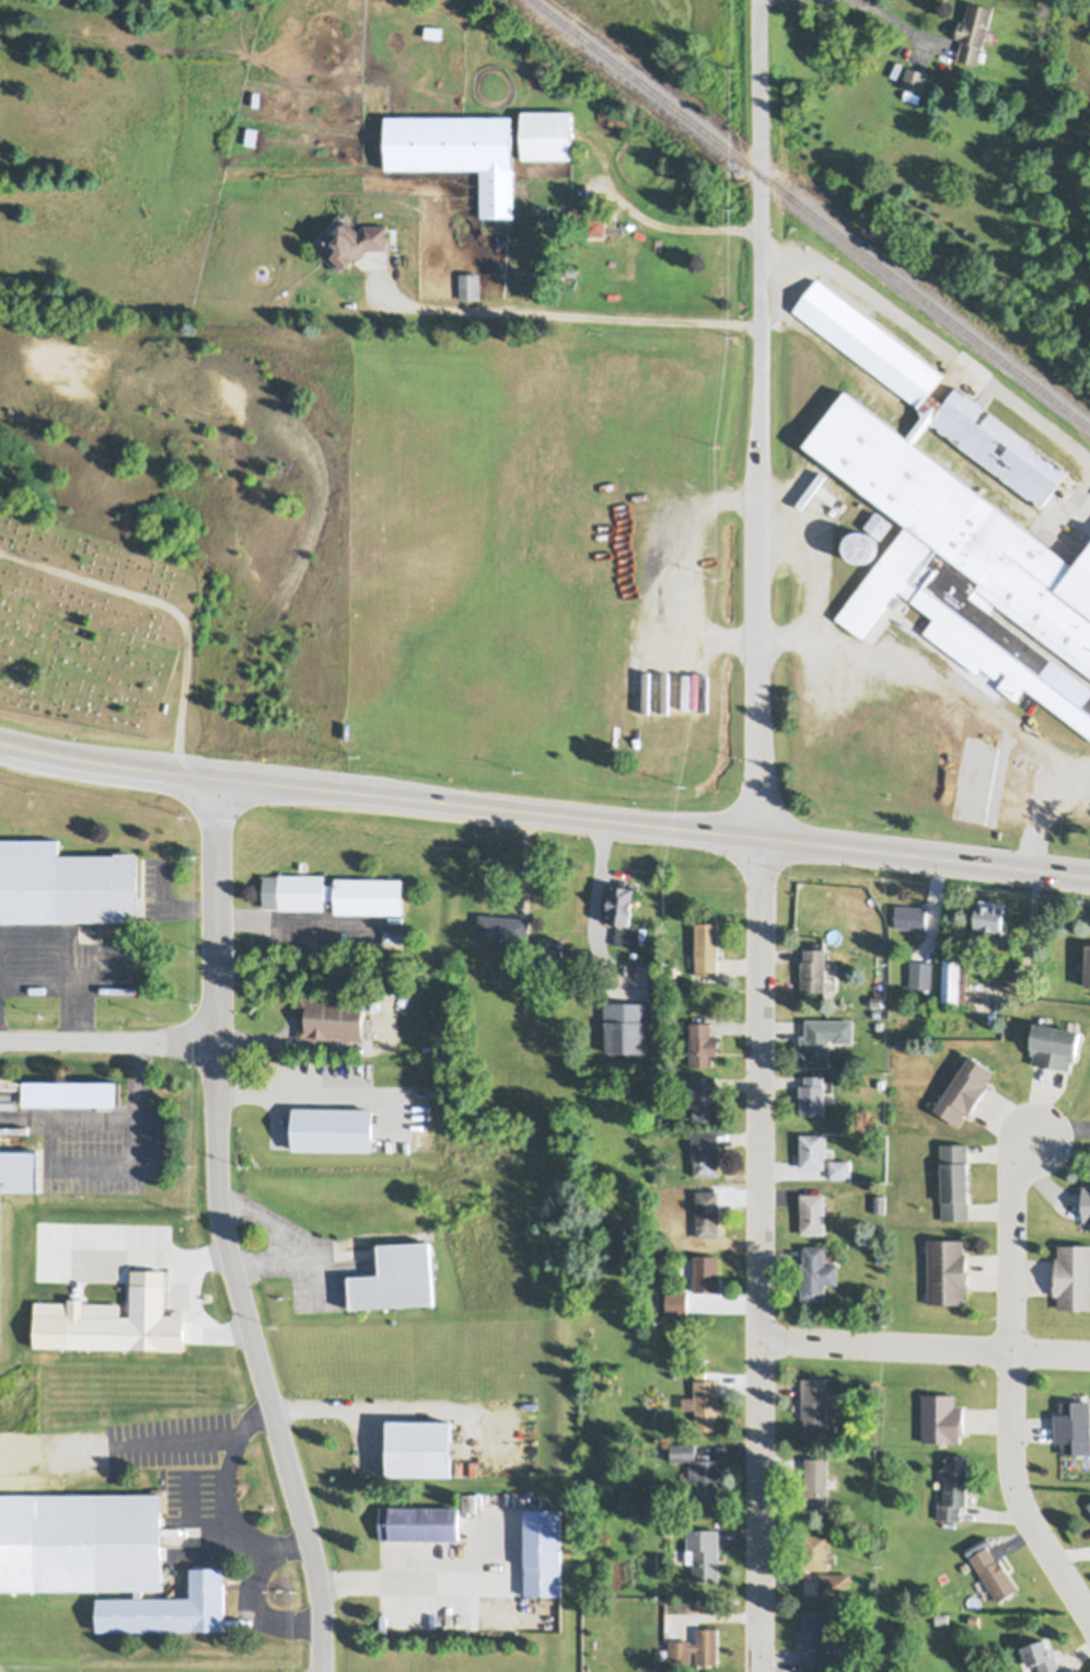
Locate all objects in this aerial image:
road: (897, 15)
building: (433, 35)
building: (974, 35)
building: (1044, 57)
building: (913, 81)
building: (251, 137)
building: (548, 139)
building: (459, 157)
railway: (811, 214)
road: (643, 223)
building: (595, 228)
building: (349, 244)
building: (469, 288)
road: (558, 315)
road: (759, 419)
building: (956, 517)
building: (878, 519)
building: (861, 546)
road: (812, 562)
road: (686, 568)
park: (95, 638)
road: (960, 693)
road: (97, 764)
road: (406, 799)
road: (853, 849)
building: (693, 872)
building: (66, 877)
building: (336, 887)
road: (166, 903)
building: (623, 909)
road: (593, 911)
building: (911, 913)
building: (990, 913)
building: (395, 914)
building: (503, 922)
building: (394, 931)
building: (707, 944)
road: (1028, 945)
building: (549, 949)
building: (1086, 961)
building: (813, 966)
building: (672, 968)
building: (919, 971)
building: (954, 976)
building: (402, 998)
building: (877, 999)
building: (375, 1001)
building: (332, 1014)
building: (627, 1021)
building: (824, 1036)
building: (1055, 1038)
building: (703, 1039)
road: (108, 1040)
road: (253, 1040)
building: (682, 1079)
building: (965, 1085)
road: (300, 1086)
building: (813, 1092)
building: (705, 1093)
road: (103, 1114)
building: (10, 1120)
building: (333, 1123)
road: (1063, 1128)
building: (812, 1146)
building: (706, 1151)
building: (19, 1165)
building: (840, 1165)
building: (955, 1177)
building: (1087, 1199)
building: (880, 1201)
building: (708, 1210)
building: (812, 1210)
building: (691, 1222)
road: (223, 1231)
road: (1012, 1238)
road: (294, 1239)
road: (759, 1255)
building: (948, 1267)
building: (706, 1269)
building: (816, 1269)
building: (396, 1272)
building: (1072, 1272)
building: (688, 1299)
road: (178, 1306)
building: (109, 1324)
building: (179, 1342)
road: (925, 1347)
building: (707, 1400)
building: (815, 1404)
building: (942, 1415)
building: (1074, 1421)
building: (419, 1442)
building: (699, 1466)
building: (816, 1481)
building: (954, 1484)
road: (225, 1490)
road: (1019, 1492)
building: (1089, 1499)
building: (419, 1519)
building: (543, 1548)
building: (814, 1548)
building: (704, 1549)
building: (105, 1553)
building: (995, 1570)
building: (835, 1582)
road: (256, 1606)
building: (942, 1616)
building: (974, 1617)
building: (816, 1636)
building: (698, 1644)
building: (1043, 1652)

